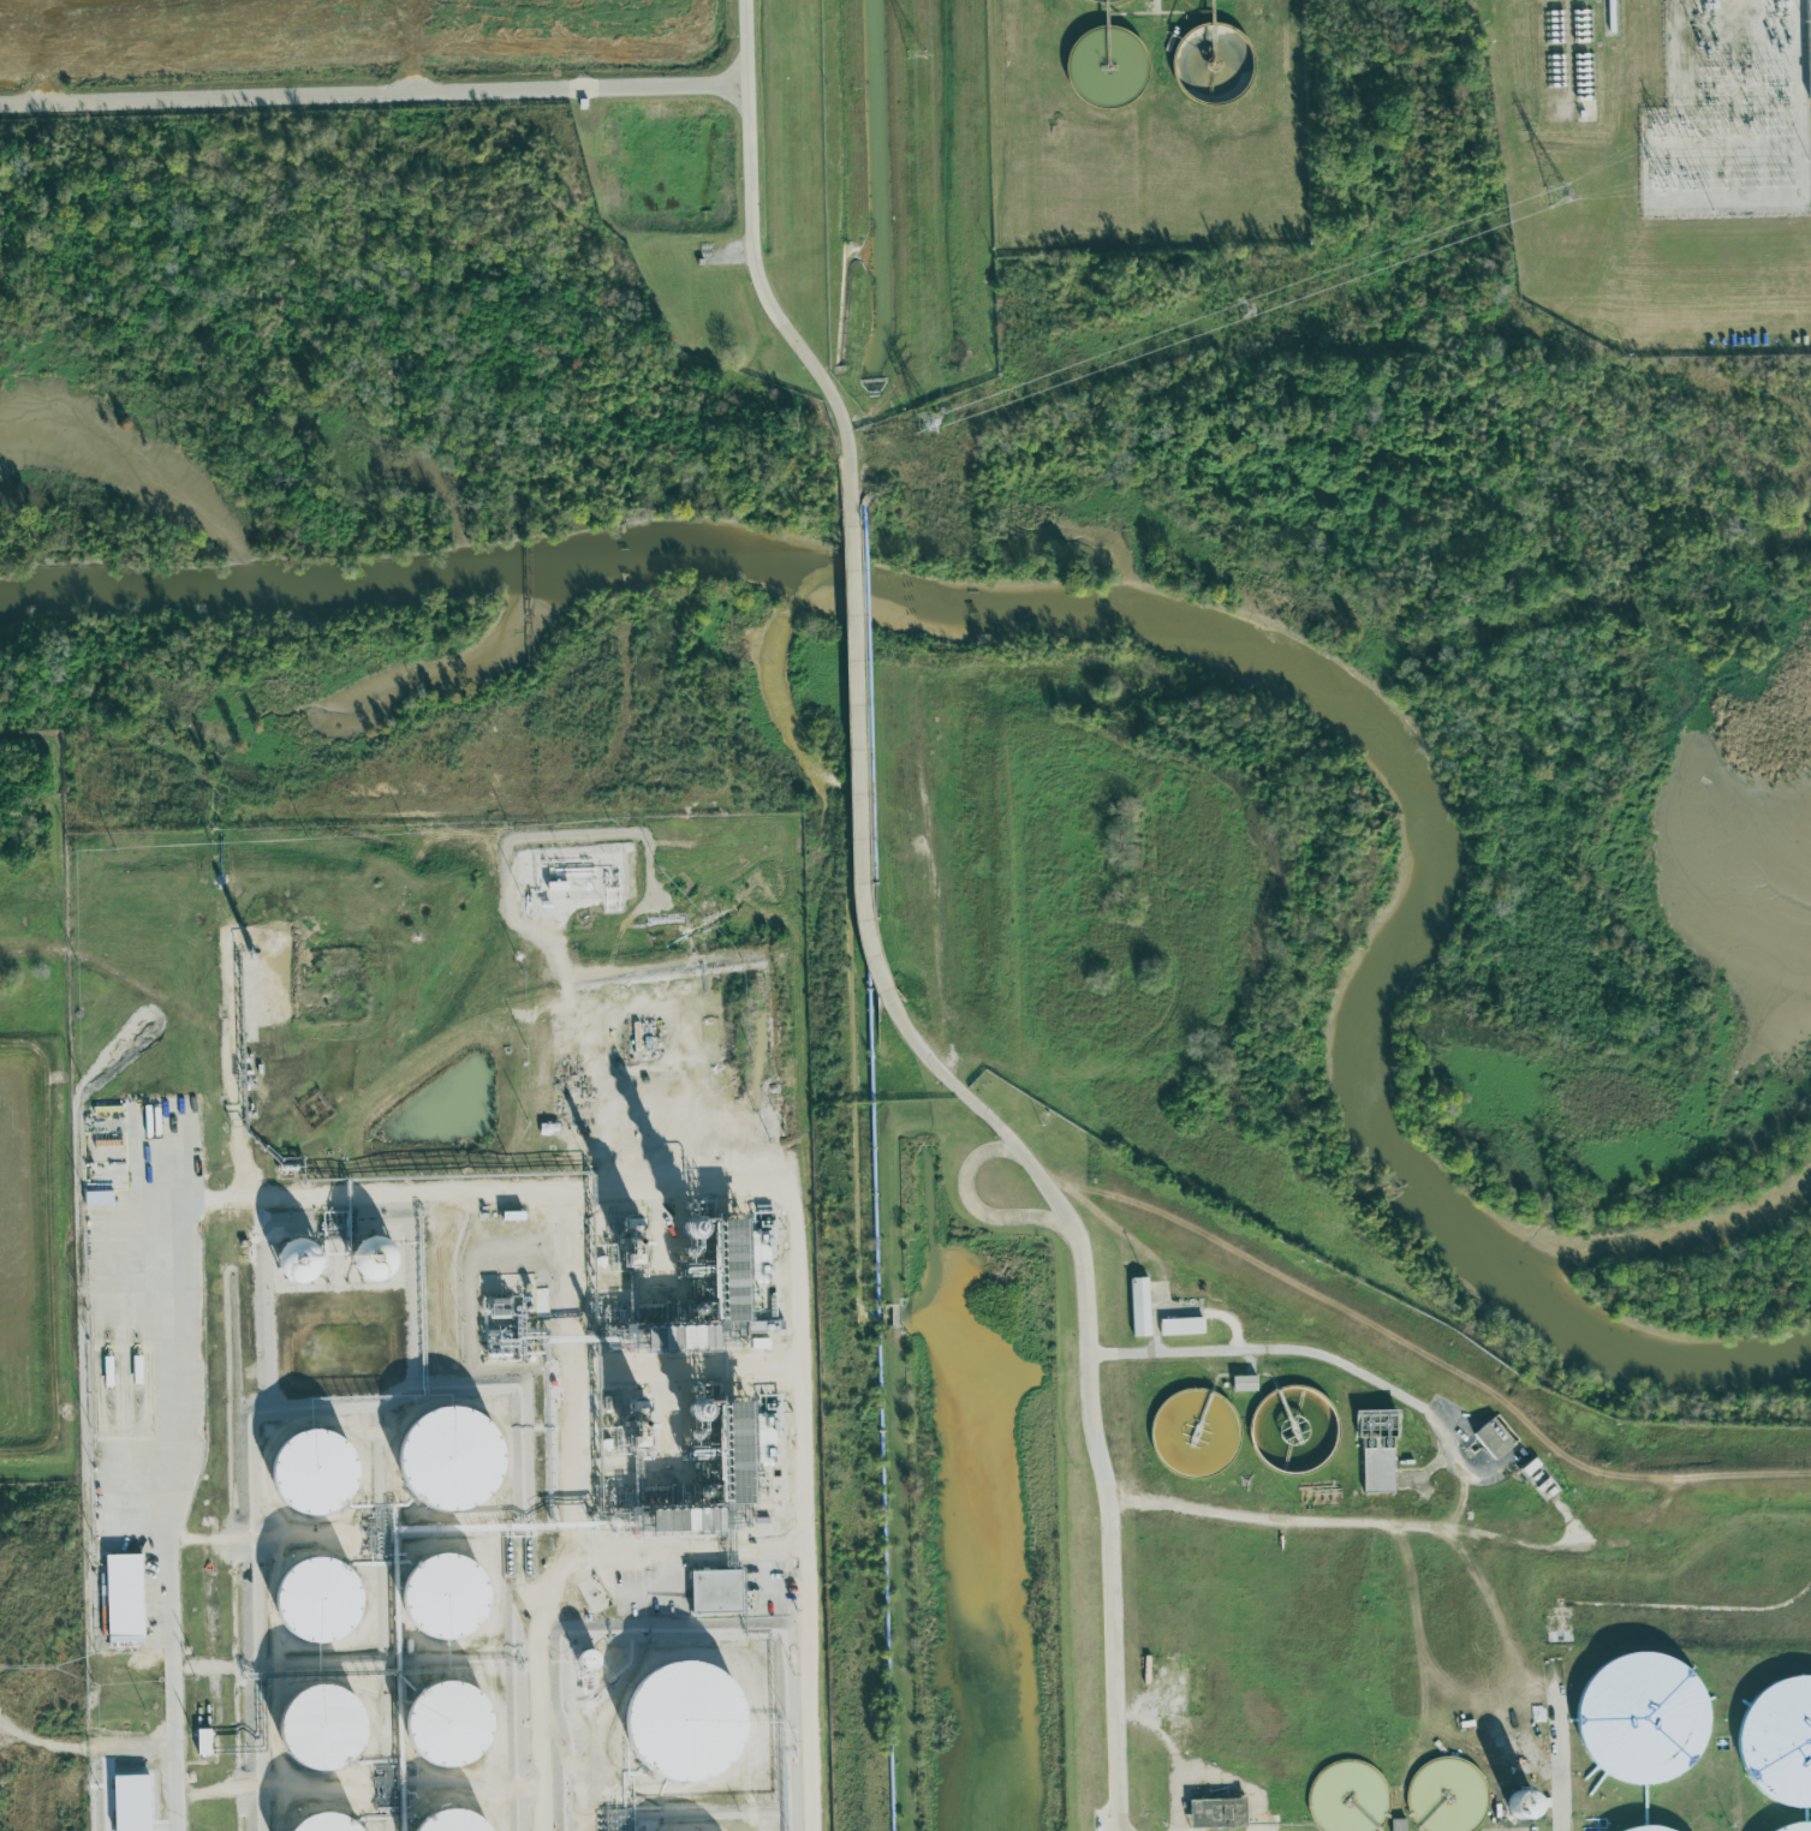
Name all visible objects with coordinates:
road: (743, 42)
building: (1807, 44)
power substation: (1807, 44)
road: (1675, 49)
power tower: (916, 54)
road: (371, 94)
power substation: (1727, 112)
power tower: (1560, 193)
road: (1733, 208)
road: (729, 252)
power tower: (1243, 309)
road: (776, 311)
power tower: (925, 423)
river: (1175, 622)
road: (860, 758)
road: (949, 1074)
road: (982, 1164)
building: (510, 1215)
building: (624, 1247)
road: (60, 1253)
building: (719, 1256)
building: (363, 1258)
building: (292, 1260)
road: (273, 1300)
building: (1138, 1306)
building: (1180, 1325)
road: (1431, 1354)
river: (1631, 1354)
road: (1342, 1365)
building: (105, 1371)
building: (1241, 1383)
building: (1491, 1437)
building: (1375, 1448)
building: (443, 1457)
building: (723, 1463)
building: (308, 1471)
road: (1376, 1515)
road: (1676, 1517)
road: (1103, 1540)
road: (1702, 1557)
building: (713, 1590)
building: (437, 1594)
building: (591, 1594)
building: (120, 1597)
building: (310, 1599)
road: (219, 1713)
building: (1638, 1717)
building: (677, 1720)
building: (440, 1723)
building: (309, 1725)
building: (1777, 1740)
building: (199, 1741)
road: (1560, 1748)
building: (1517, 1805)
road: (1220, 1811)
building: (1214, 1812)
building: (608, 1819)
building: (441, 1821)
building: (312, 1823)
building: (1395, 1825)
building: (1794, 1826)
building: (1639, 1829)

